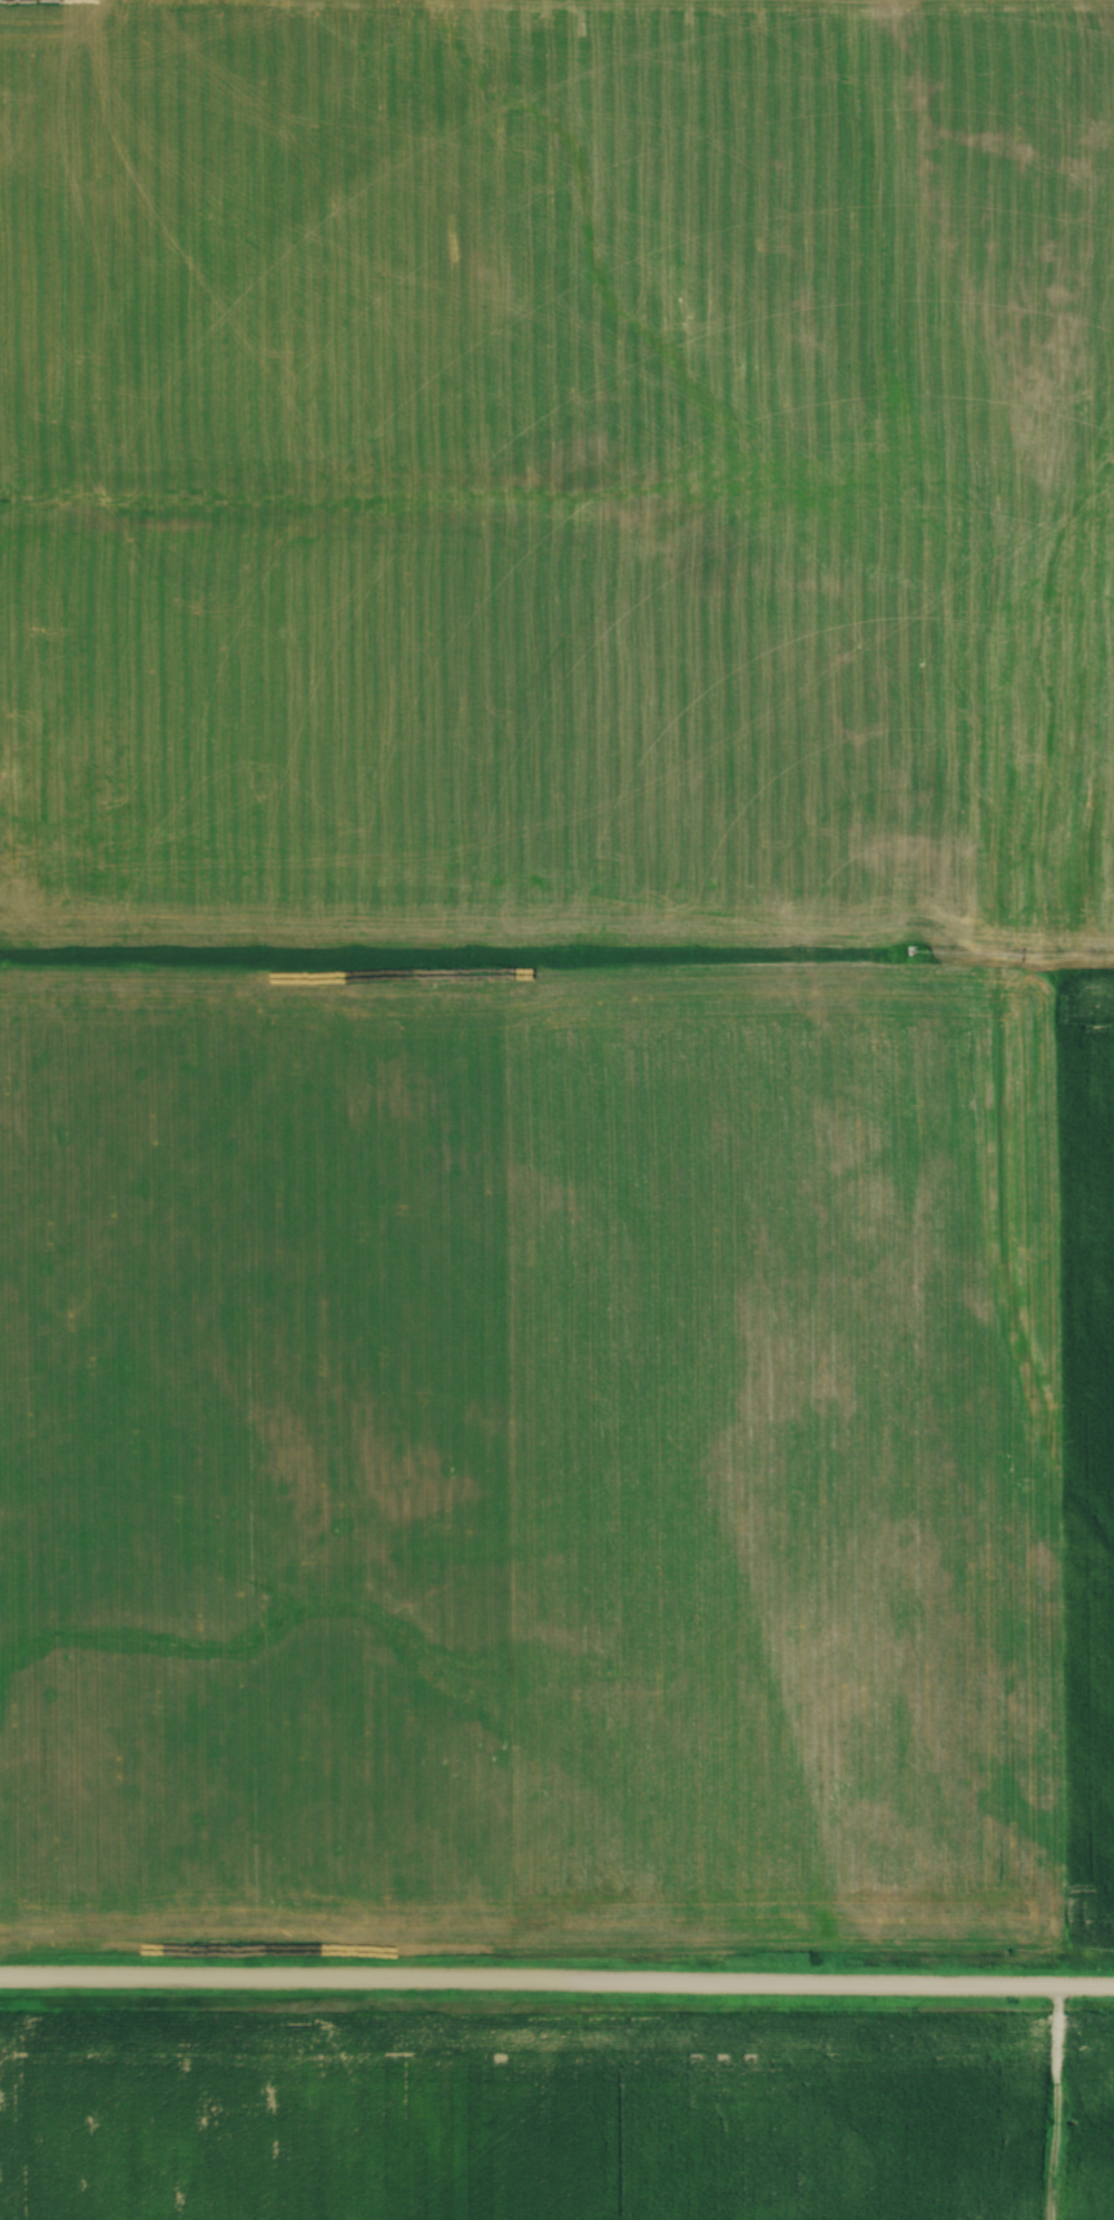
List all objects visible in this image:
road: (556, 1981)
road: (1055, 2103)

